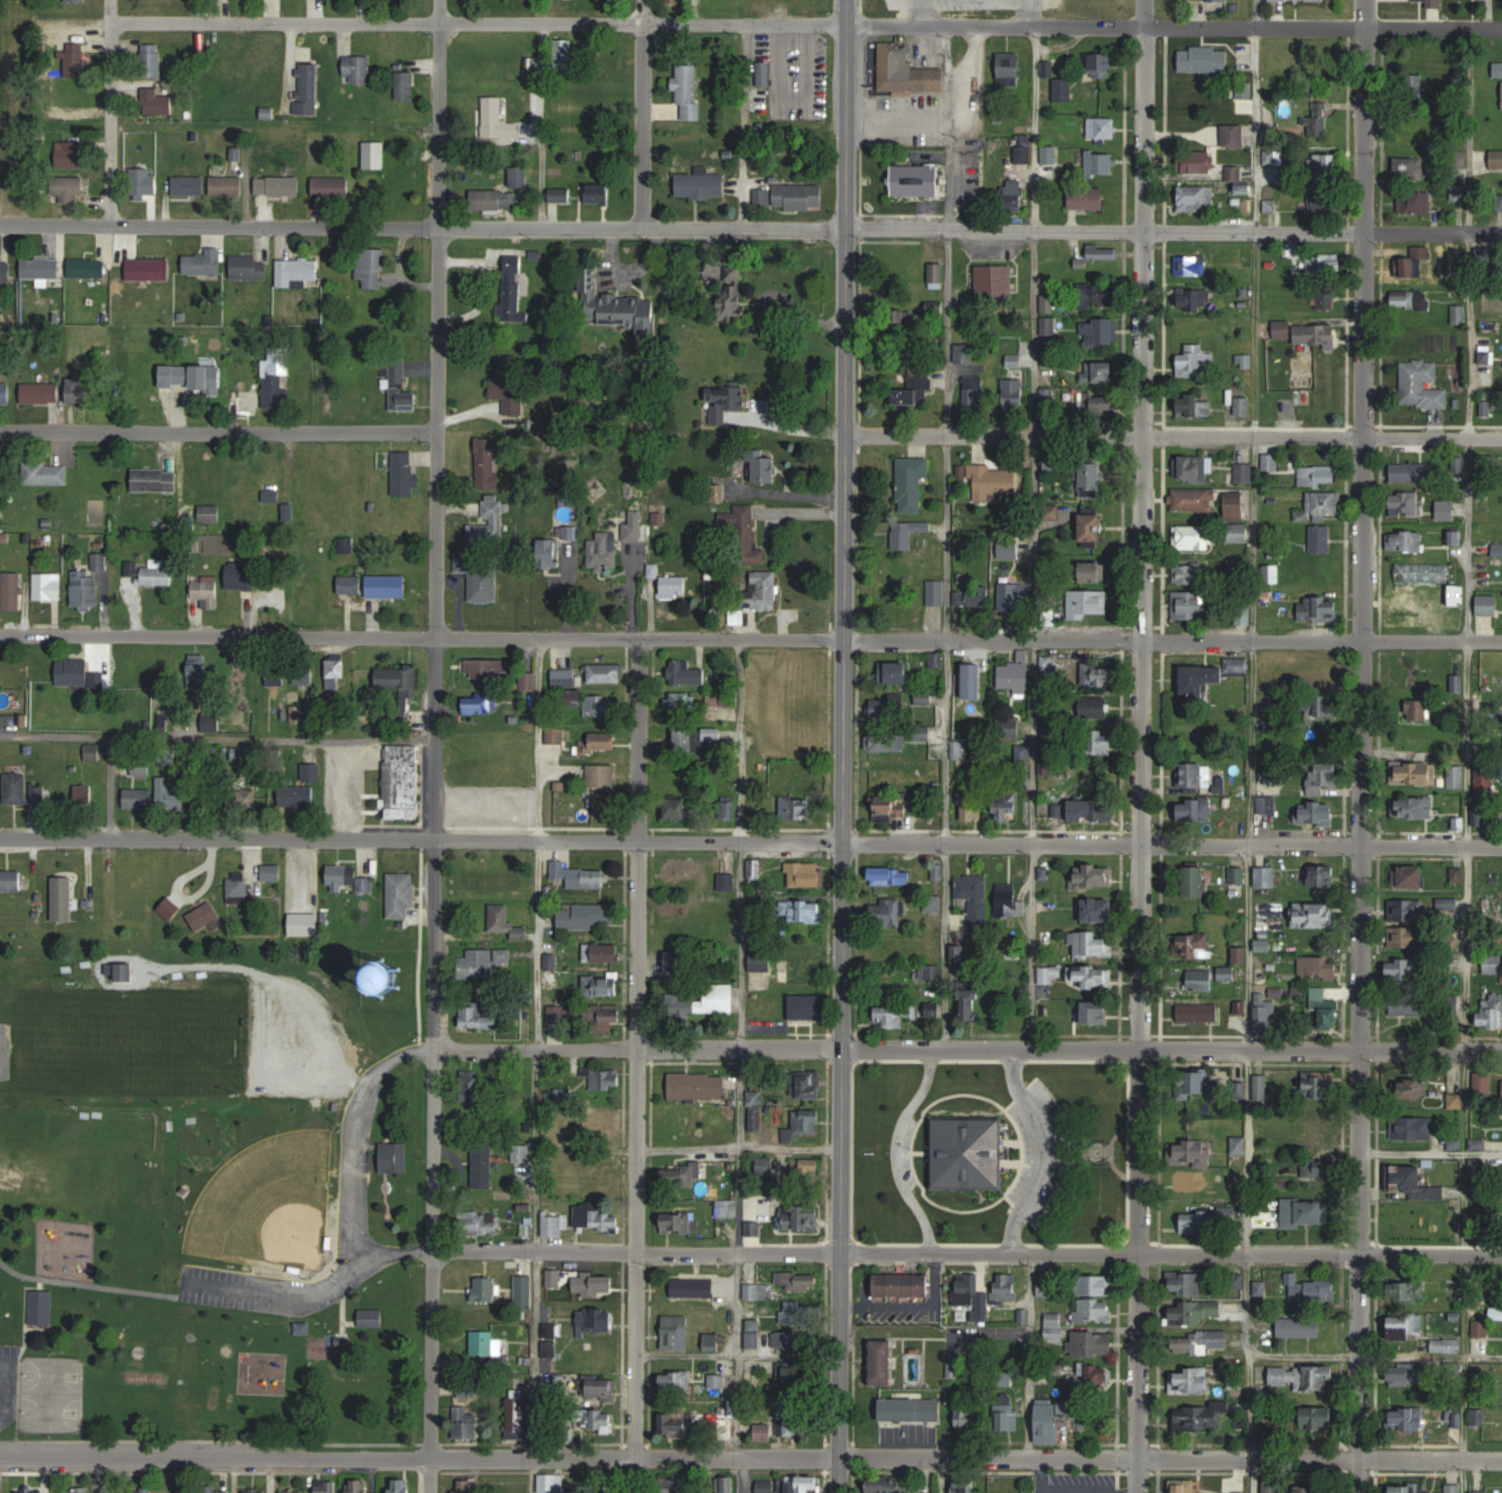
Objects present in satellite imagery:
building: (1218, 0)
building: (1297, 0)
building: (75, 1)
building: (804, 2)
building: (1432, 3)
road: (1434, 26)
road: (702, 29)
building: (563, 53)
building: (73, 58)
building: (1204, 58)
building: (150, 60)
building: (1101, 65)
building: (356, 69)
building: (1009, 70)
building: (906, 71)
building: (764, 74)
building: (404, 85)
building: (1414, 87)
building: (307, 88)
building: (1063, 89)
building: (1244, 91)
building: (687, 93)
building: (156, 102)
road: (107, 112)
road: (635, 117)
building: (1317, 117)
building: (497, 122)
building: (1102, 127)
road: (744, 130)
building: (1233, 135)
building: (1412, 136)
building: (0, 151)
building: (1049, 154)
building: (70, 155)
building: (373, 155)
building: (1274, 157)
building: (1496, 159)
building: (1199, 161)
building: (1100, 162)
building: (1325, 165)
building: (1411, 167)
building: (518, 176)
building: (916, 180)
building: (144, 182)
building: (701, 184)
building: (189, 185)
building: (277, 185)
building: (330, 186)
building: (226, 187)
building: (68, 189)
building: (597, 192)
building: (560, 193)
building: (792, 196)
building: (1088, 197)
building: (1196, 198)
building: (494, 199)
building: (1015, 199)
building: (1326, 199)
building: (1501, 200)
building: (1413, 202)
building: (1245, 205)
road: (1034, 217)
road: (1433, 232)
road: (682, 234)
building: (1097, 254)
building: (206, 261)
building: (1418, 261)
building: (1323, 264)
building: (1191, 265)
building: (247, 267)
building: (371, 267)
building: (42, 268)
building: (87, 268)
building: (148, 270)
building: (296, 272)
building: (936, 273)
building: (993, 283)
building: (513, 288)
building: (730, 292)
building: (1095, 295)
building: (1325, 297)
building: (1193, 298)
building: (1407, 299)
building: (620, 310)
building: (1458, 313)
building: (936, 318)
building: (1282, 329)
road: (946, 331)
building: (1099, 331)
building: (1316, 333)
building: (964, 352)
building: (1195, 360)
building: (190, 377)
building: (276, 379)
building: (398, 385)
building: (1421, 385)
building: (915, 389)
building: (81, 390)
building: (1104, 390)
building: (508, 392)
building: (40, 393)
building: (1013, 393)
building: (4, 394)
building: (974, 394)
building: (246, 401)
building: (725, 402)
building: (1243, 405)
building: (1194, 406)
road: (219, 429)
road: (995, 434)
road: (1323, 438)
building: (487, 462)
building: (764, 465)
building: (1195, 468)
building: (1406, 471)
building: (1244, 472)
building: (45, 473)
building: (404, 474)
building: (1318, 475)
building: (1093, 478)
building: (150, 479)
building: (995, 482)
building: (911, 483)
building: (270, 496)
building: (1194, 500)
building: (1404, 503)
building: (1319, 506)
building: (1236, 507)
building: (1445, 509)
building: (288, 512)
building: (210, 513)
building: (488, 525)
building: (634, 527)
building: (1093, 527)
building: (907, 533)
building: (1238, 533)
building: (743, 535)
road: (946, 536)
road: (1034, 536)
building: (1192, 537)
building: (1454, 537)
building: (1320, 539)
building: (1405, 540)
building: (1012, 549)
building: (1497, 550)
building: (603, 551)
building: (547, 552)
building: (902, 571)
building: (1090, 571)
building: (1421, 571)
building: (156, 574)
building: (1191, 574)
building: (240, 576)
building: (479, 580)
building: (349, 584)
building: (47, 586)
building: (386, 586)
building: (674, 586)
building: (764, 589)
building: (85, 590)
building: (12, 591)
building: (205, 592)
building: (934, 592)
building: (972, 598)
building: (1014, 602)
building: (1087, 603)
building: (1487, 604)
building: (1189, 605)
building: (1426, 605)
building: (1317, 609)
road: (1324, 639)
road: (573, 640)
building: (1047, 663)
building: (484, 669)
building: (686, 672)
building: (335, 673)
building: (605, 673)
building: (807, 673)
building: (898, 673)
building: (1320, 673)
building: (77, 674)
building: (197, 674)
building: (1098, 674)
building: (1211, 674)
building: (276, 675)
building: (303, 675)
building: (1403, 675)
building: (563, 677)
building: (1015, 679)
building: (398, 680)
building: (974, 681)
building: (723, 697)
building: (682, 701)
building: (590, 702)
building: (479, 703)
building: (1091, 707)
building: (889, 708)
building: (799, 709)
building: (1416, 710)
building: (211, 723)
building: (1008, 728)
building: (711, 733)
building: (555, 735)
road: (216, 738)
building: (683, 740)
road: (943, 740)
building: (601, 741)
road: (1033, 741)
building: (1100, 741)
building: (889, 742)
road: (433, 746)
road: (843, 746)
road: (1144, 746)
road: (1250, 746)
road: (1360, 746)
building: (92, 753)
building: (1022, 755)
road: (1467, 759)
building: (141, 769)
building: (1414, 773)
building: (601, 775)
building: (1197, 775)
building: (1324, 777)
building: (1456, 777)
building: (402, 781)
building: (1485, 781)
building: (15, 789)
building: (83, 795)
building: (169, 796)
building: (295, 797)
building: (138, 799)
building: (205, 802)
building: (241, 802)
building: (1267, 804)
building: (891, 805)
building: (1005, 806)
building: (972, 807)
building: (677, 808)
building: (726, 808)
building: (796, 808)
building: (1196, 809)
building: (1093, 810)
building: (1318, 813)
road: (570, 840)
road: (740, 844)
road: (1321, 845)
building: (138, 871)
building: (680, 871)
building: (271, 872)
building: (578, 875)
building: (1457, 875)
building: (805, 876)
building: (890, 876)
building: (1094, 876)
building: (1321, 876)
building: (1412, 876)
building: (1265, 877)
building: (347, 878)
building: (10, 881)
building: (484, 881)
building: (1196, 881)
building: (727, 882)
building: (236, 889)
building: (401, 894)
building: (62, 899)
building: (974, 899)
building: (1006, 903)
building: (933, 904)
building: (1098, 909)
building: (1407, 909)
building: (803, 911)
building: (887, 912)
building: (203, 915)
building: (587, 915)
building: (1313, 915)
building: (506, 922)
building: (304, 924)
building: (1405, 937)
road: (535, 944)
building: (1089, 945)
road: (943, 946)
building: (1193, 946)
road: (1030, 947)
building: (601, 952)
building: (484, 961)
building: (550, 961)
building: (677, 962)
building: (760, 962)
building: (1493, 963)
building: (1317, 968)
building: (1403, 969)
building: (803, 970)
building: (125, 973)
building: (1226, 973)
water tower: (383, 976)
building: (401, 976)
building: (898, 977)
building: (1090, 977)
building: (1200, 980)
building: (601, 986)
building: (1319, 994)
building: (698, 1001)
building: (975, 1005)
building: (1410, 1006)
building: (807, 1007)
building: (932, 1010)
building: (1491, 1010)
building: (1098, 1013)
building: (1199, 1013)
building: (1264, 1015)
building: (476, 1016)
building: (586, 1016)
building: (892, 1017)
building: (1330, 1017)
road: (537, 1047)
road: (999, 1051)
road: (1431, 1054)
road: (638, 1068)
building: (599, 1078)
building: (1211, 1081)
building: (698, 1085)
building: (810, 1085)
building: (1483, 1085)
building: (1262, 1088)
building: (1415, 1089)
building: (565, 1095)
building: (1323, 1115)
building: (605, 1117)
building: (806, 1122)
building: (1423, 1128)
building: (1238, 1145)
road: (533, 1147)
road: (739, 1148)
road: (896, 1149)
road: (1041, 1152)
building: (1191, 1152)
road: (1430, 1152)
park: (218, 1154)
building: (968, 1154)
building: (393, 1157)
road: (353, 1162)
building: (483, 1165)
building: (765, 1165)
building: (597, 1171)
building: (804, 1171)
building: (1223, 1175)
building: (679, 1177)
building: (1408, 1177)
building: (1190, 1181)
building: (1306, 1212)
building: (1414, 1214)
building: (594, 1217)
building: (800, 1217)
park: (284, 1219)
building: (1208, 1221)
building: (478, 1222)
building: (681, 1222)
building: (552, 1226)
road: (783, 1249)
road: (1319, 1254)
building: (1238, 1280)
building: (802, 1283)
building: (1185, 1284)
building: (594, 1285)
building: (1098, 1285)
building: (903, 1286)
building: (692, 1287)
building: (1005, 1288)
building: (1287, 1288)
building: (484, 1289)
building: (968, 1289)
building: (1045, 1289)
building: (1410, 1289)
building: (758, 1291)
building: (1321, 1292)
road: (286, 1298)
building: (41, 1308)
building: (1094, 1311)
building: (1193, 1312)
building: (797, 1313)
building: (371, 1318)
building: (595, 1320)
building: (1300, 1327)
building: (1406, 1327)
building: (1481, 1328)
building: (675, 1332)
building: (753, 1333)
building: (790, 1340)
building: (711, 1341)
building: (1199, 1341)
building: (1092, 1343)
building: (485, 1345)
building: (1447, 1345)
road: (1029, 1355)
road: (1375, 1356)
building: (882, 1361)
building: (792, 1376)
building: (1094, 1377)
building: (1302, 1377)
building: (676, 1379)
building: (1190, 1380)
building: (602, 1388)
building: (911, 1409)
building: (1007, 1412)
building: (517, 1414)
building: (968, 1416)
building: (1201, 1417)
building: (1319, 1418)
building: (1409, 1418)
building: (1050, 1420)
building: (603, 1421)
building: (676, 1423)
building: (466, 1426)
building: (790, 1426)
building: (764, 1432)
road: (1430, 1456)
road: (679, 1458)
road: (104, 1476)
road: (532, 1476)
road: (1040, 1476)
building: (725, 1484)
building: (788, 1485)
building: (326, 1486)
building: (357, 1486)
building: (400, 1486)
building: (1183, 1486)
building: (1272, 1486)
building: (465, 1487)
building: (886, 1487)
building: (965, 1487)
building: (1406, 1488)
building: (1454, 1488)
building: (75, 1490)
building: (141, 1490)
building: (30, 1491)
building: (1310, 1491)
building: (212, 1492)
building: (254, 1492)
building: (929, 1492)
building: (1241, 1492)
building: (1479, 1492)

